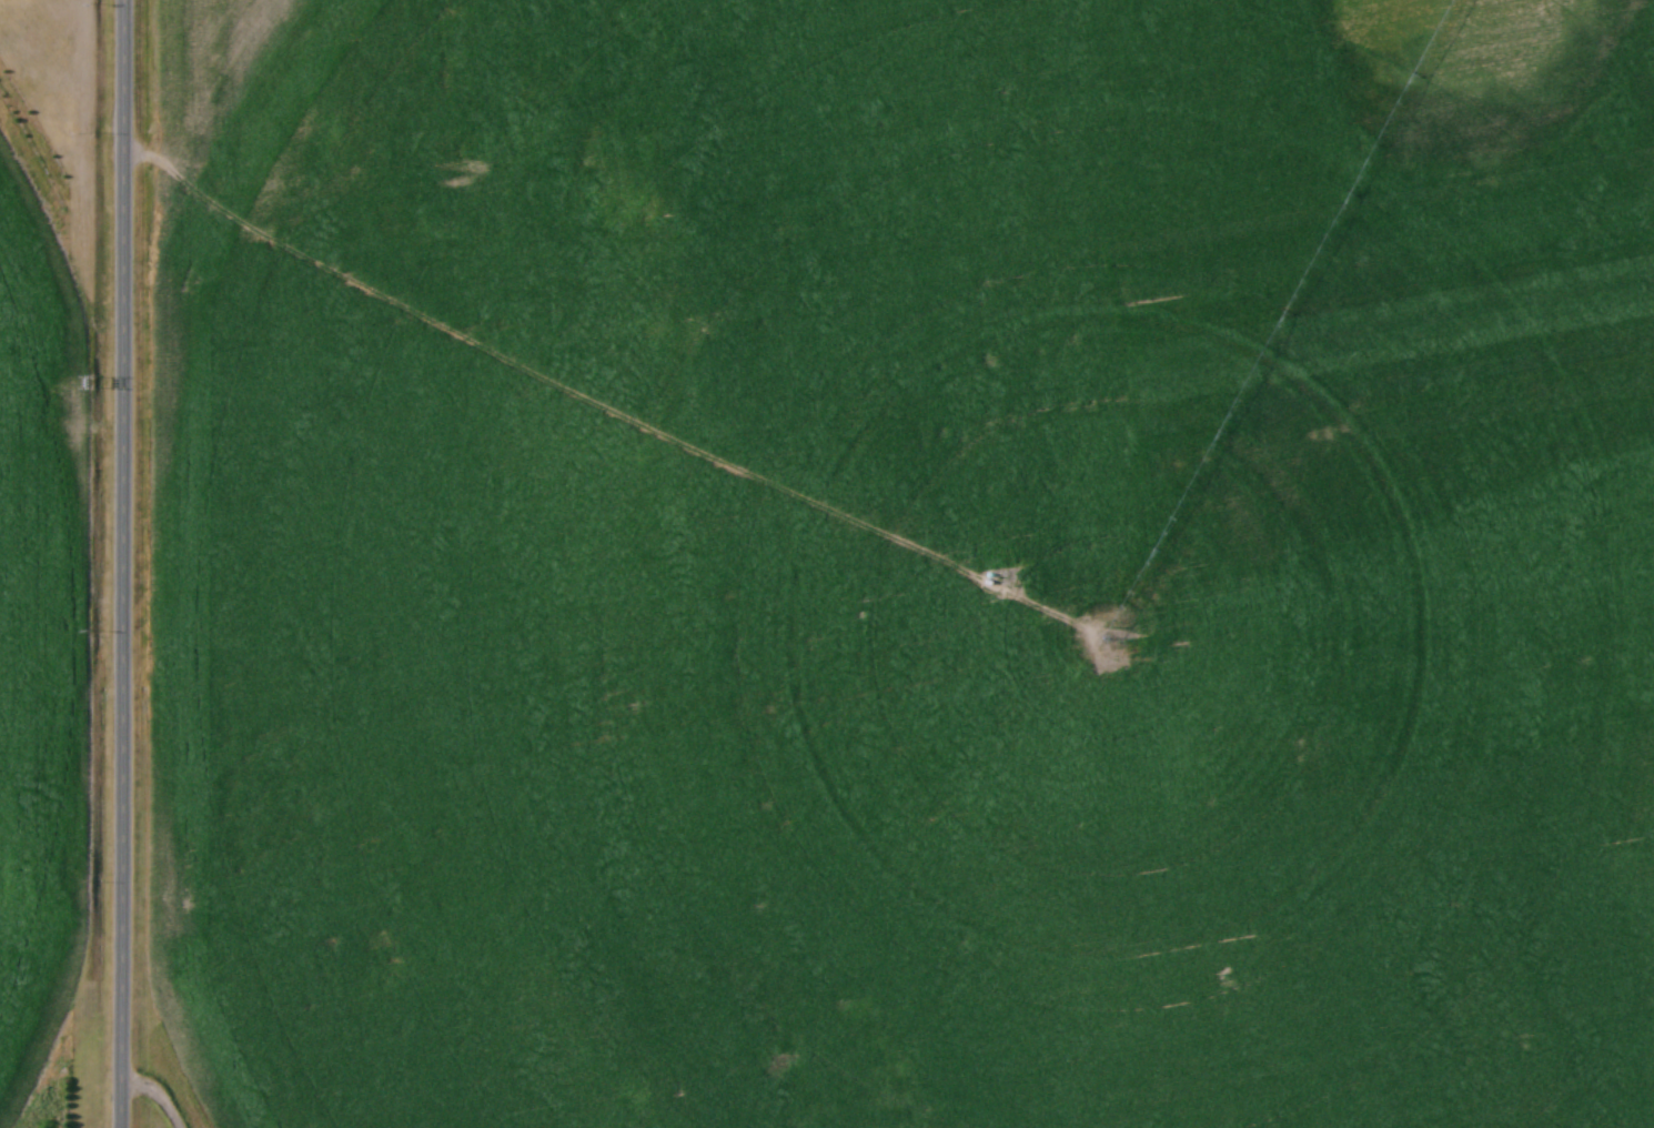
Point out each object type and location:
road: (124, 564)

